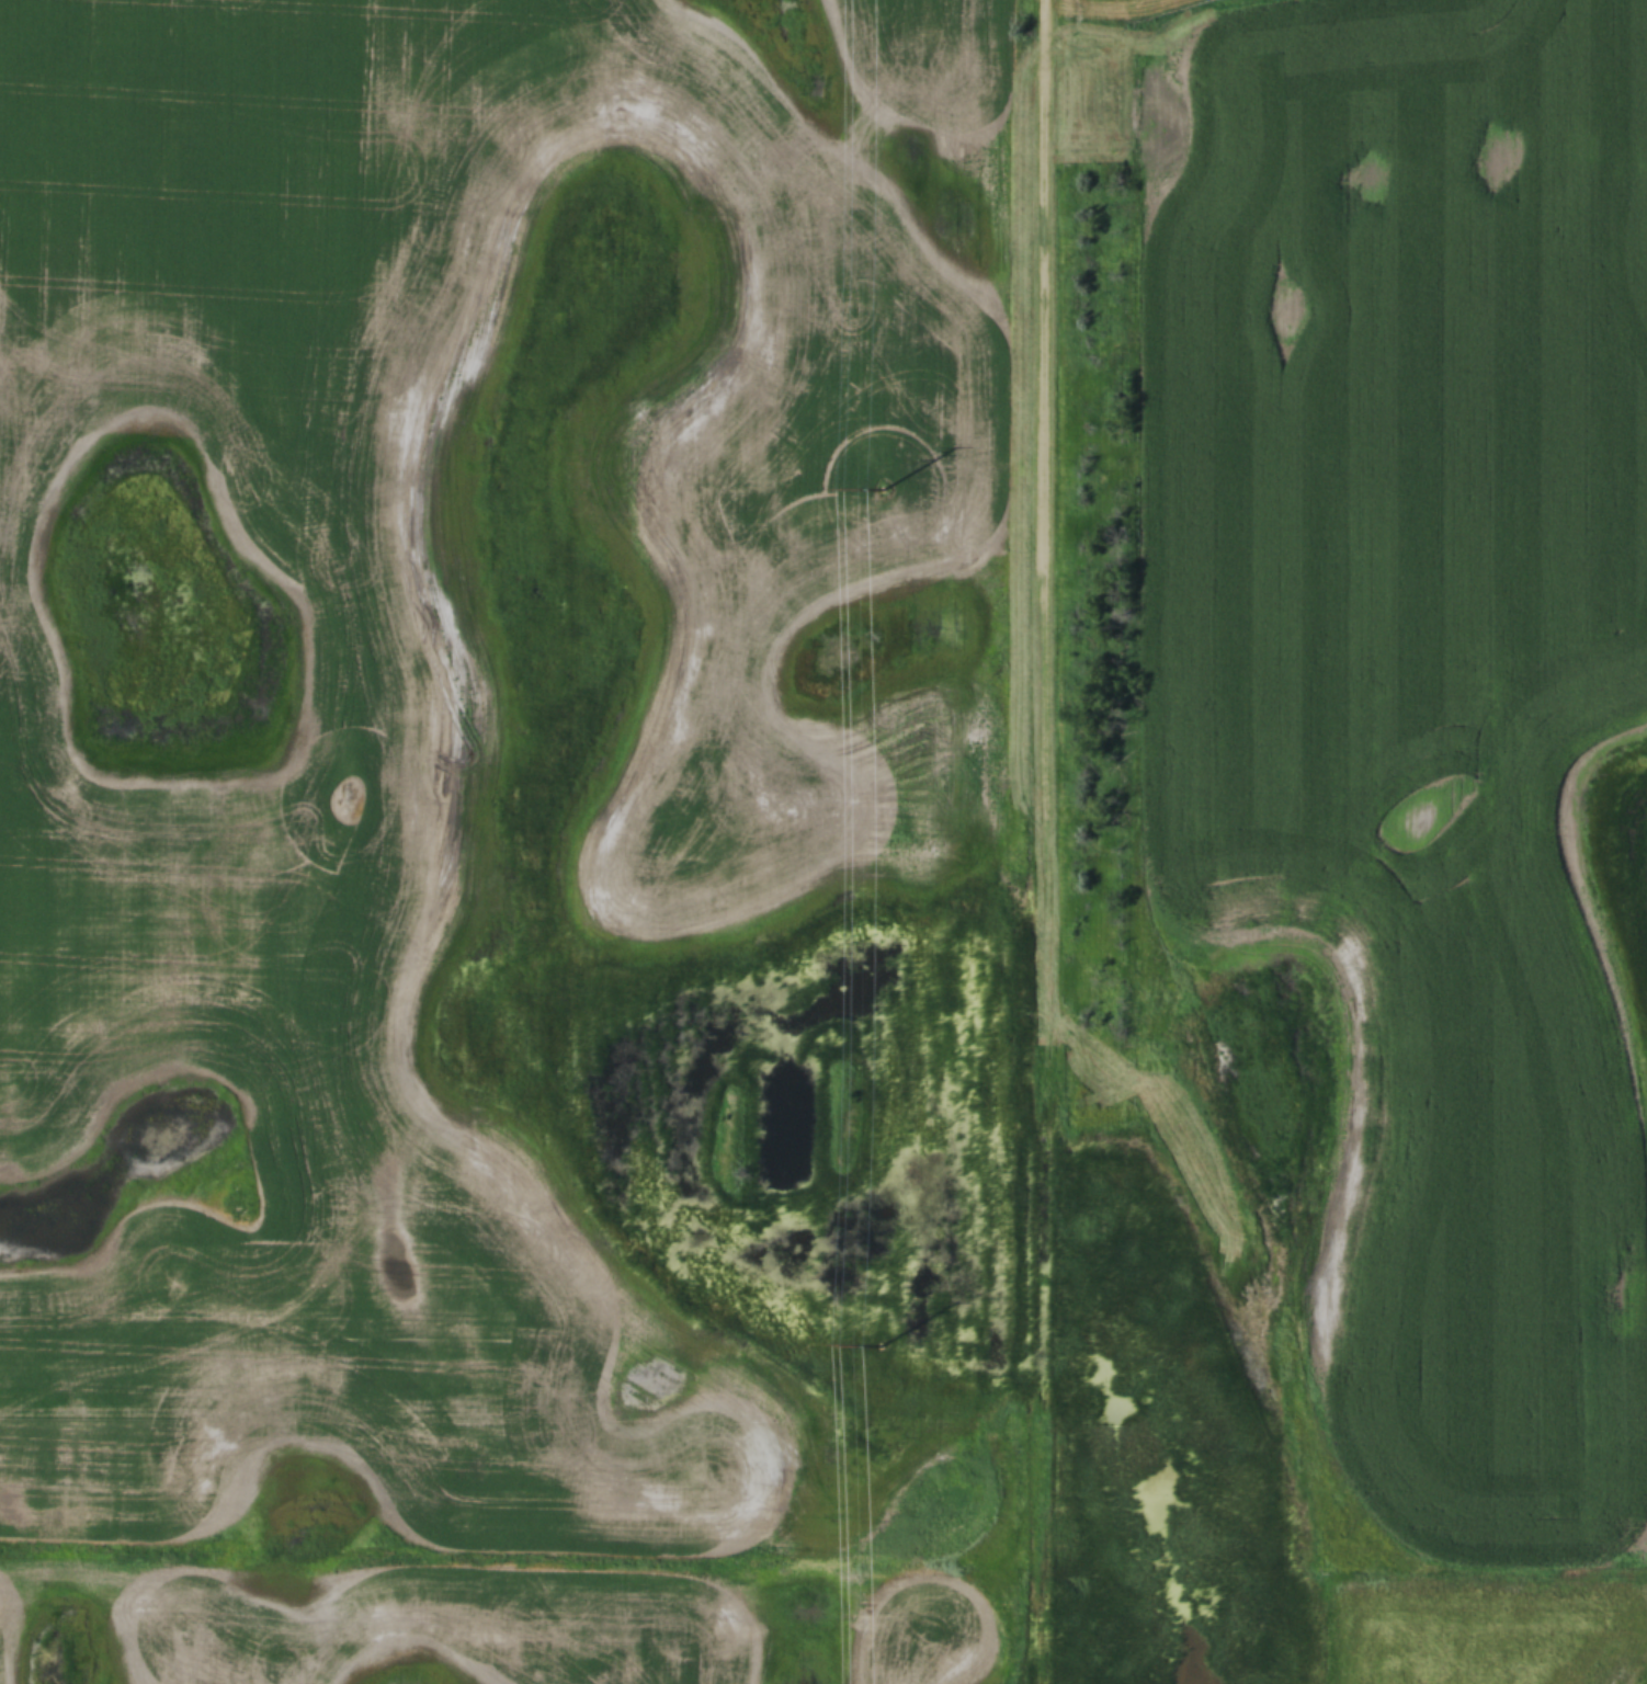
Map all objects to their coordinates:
power tower: (891, 481)
road: (1057, 842)
power tower: (891, 1345)

